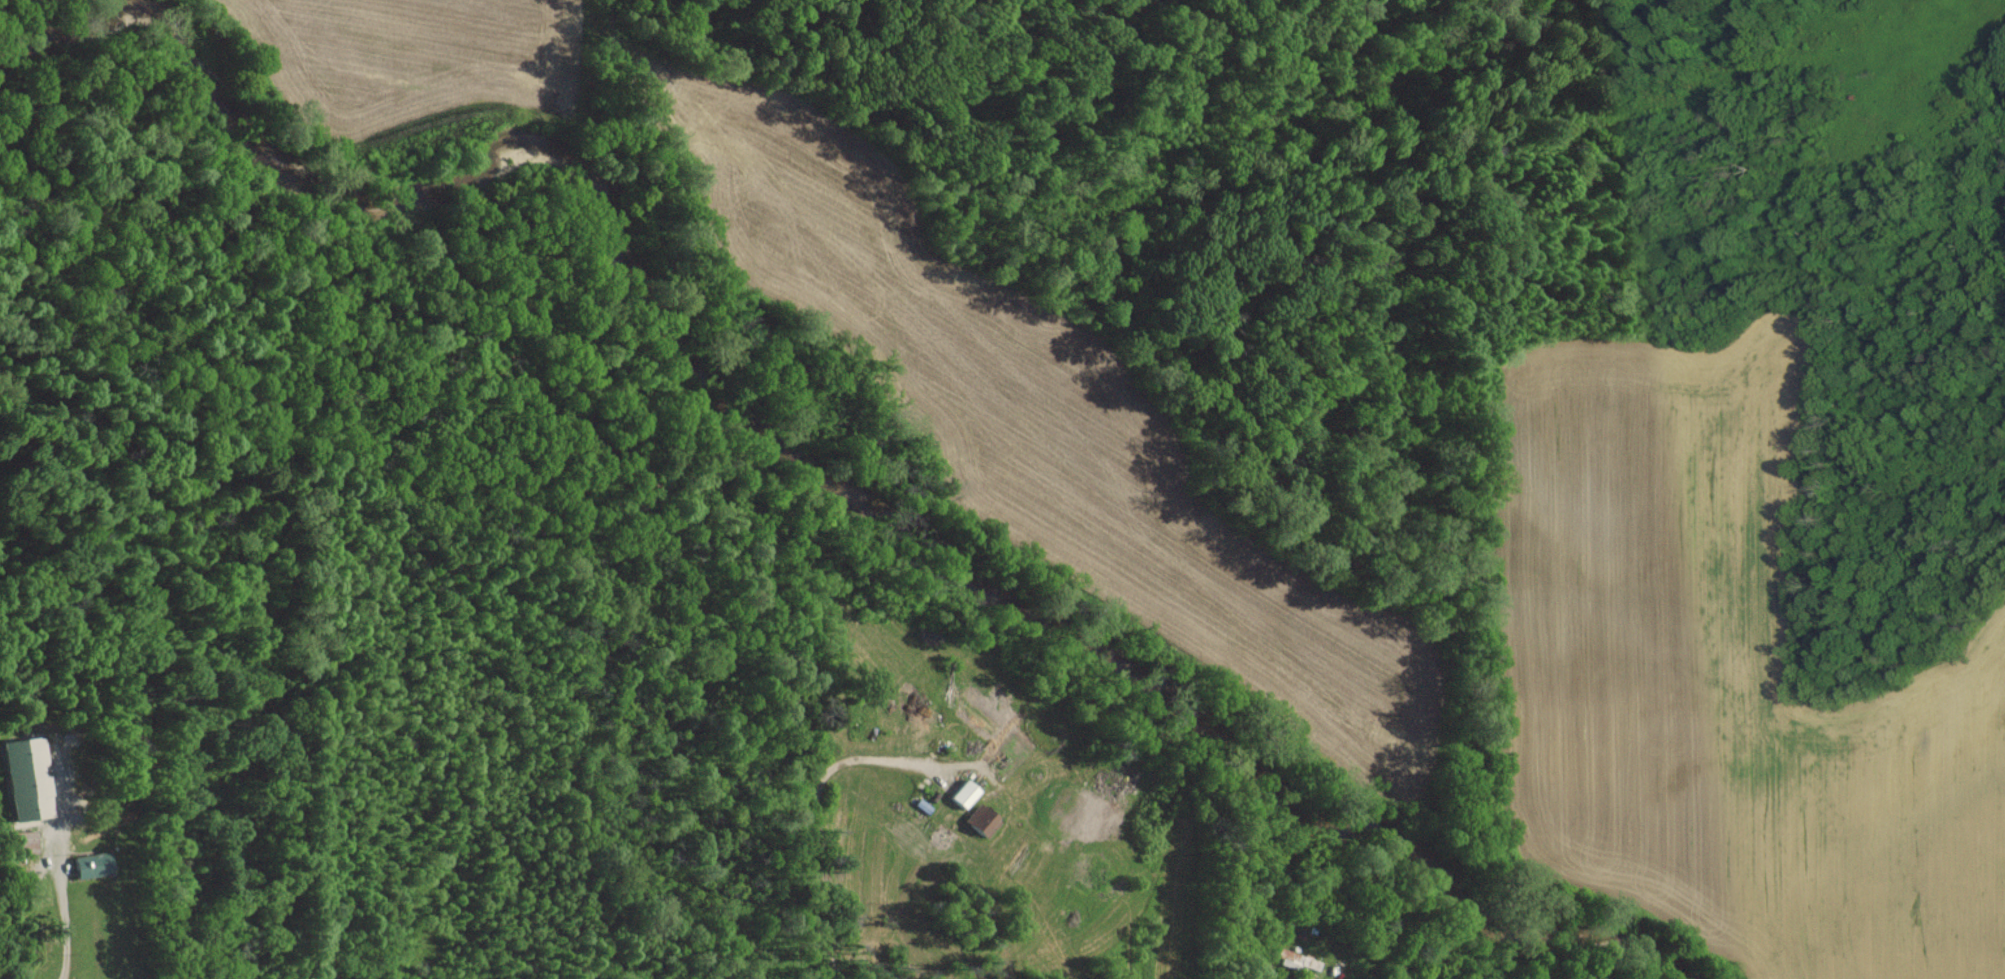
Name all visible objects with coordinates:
building: (20, 772)
building: (959, 793)
road: (815, 797)
building: (977, 820)
building: (93, 862)
road: (69, 911)
road: (1050, 922)

